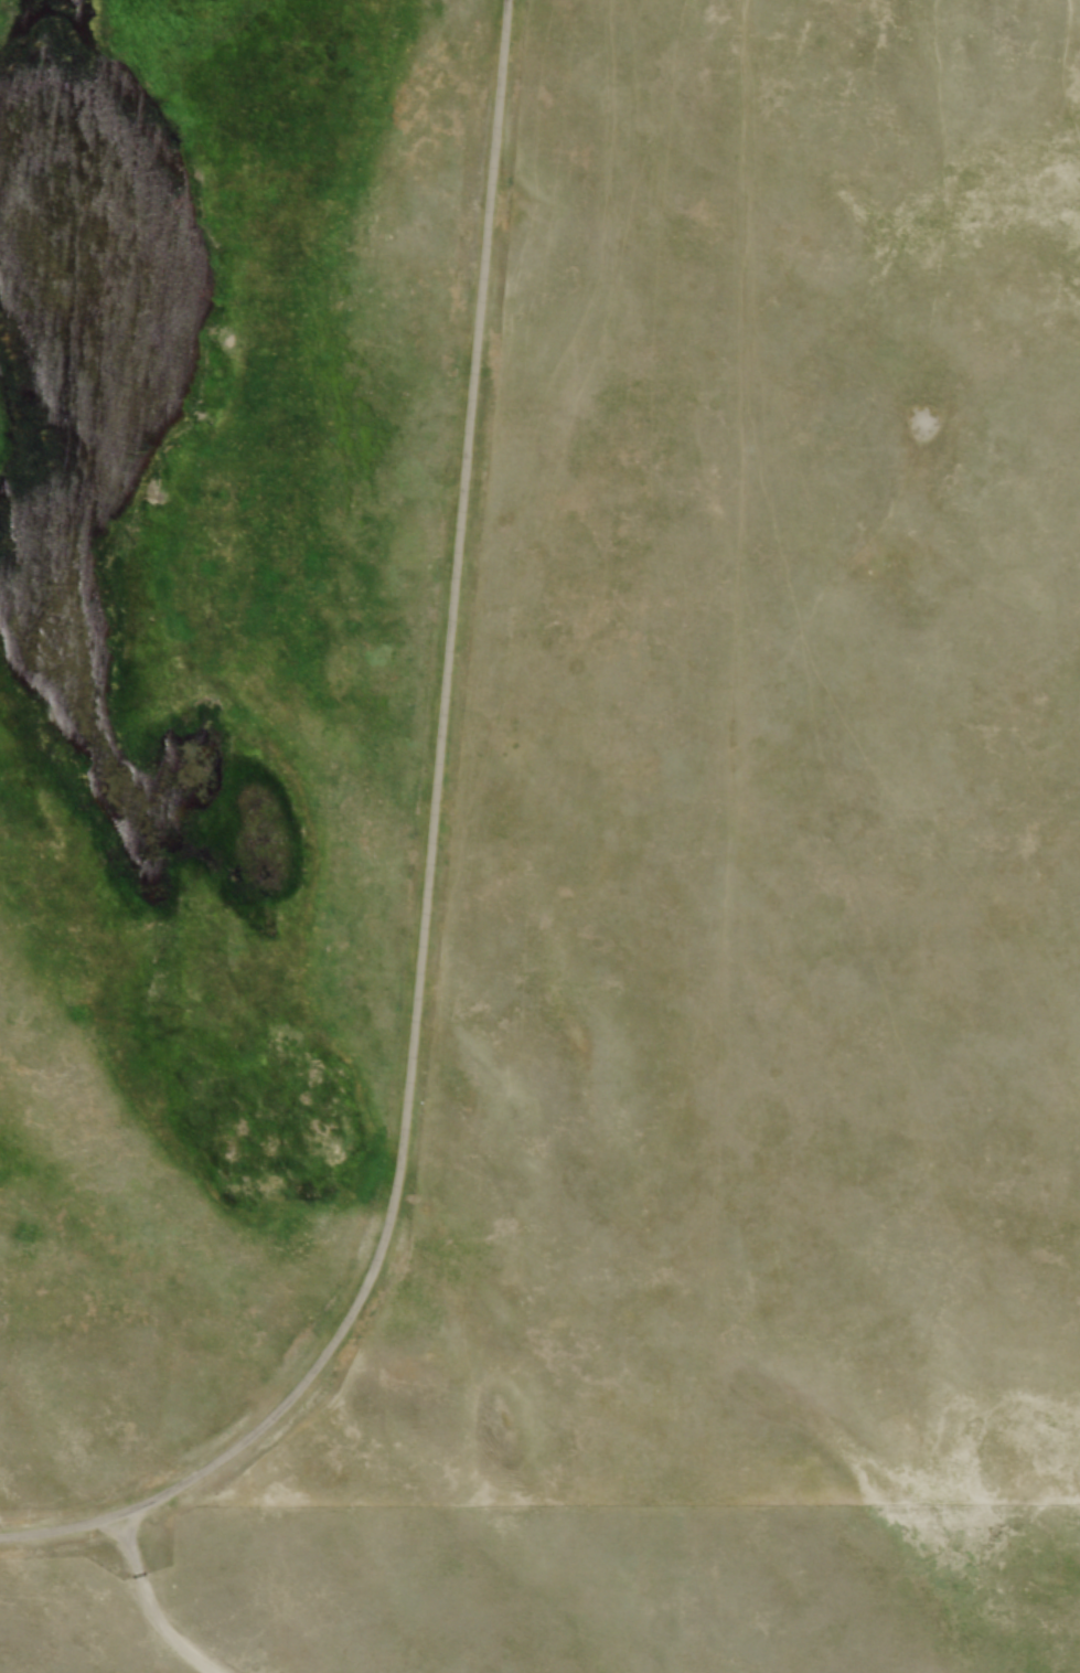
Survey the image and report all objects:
road: (427, 877)
road: (149, 1606)

